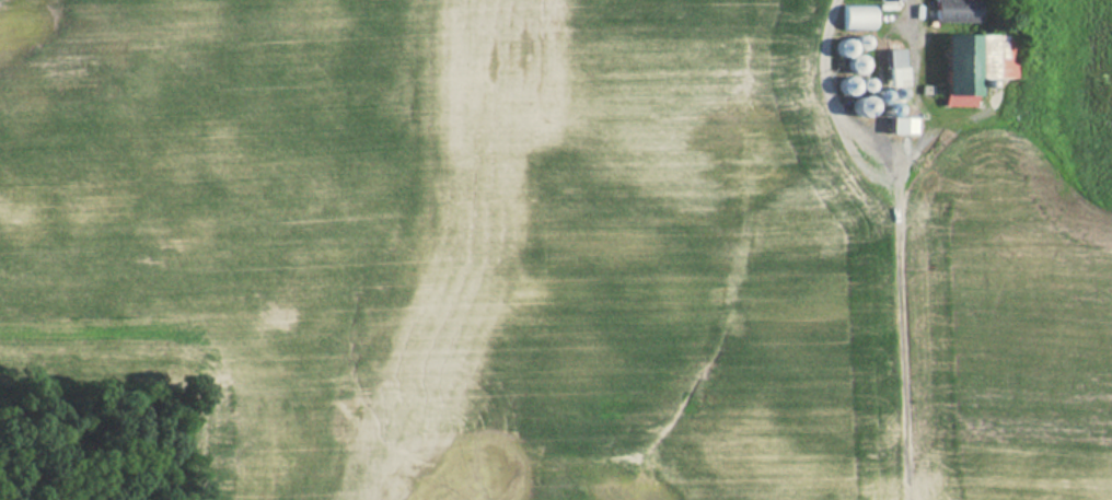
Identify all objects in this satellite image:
building: (884, 0)
building: (950, 11)
building: (853, 16)
building: (969, 63)
road: (887, 150)
crop: (546, 255)

